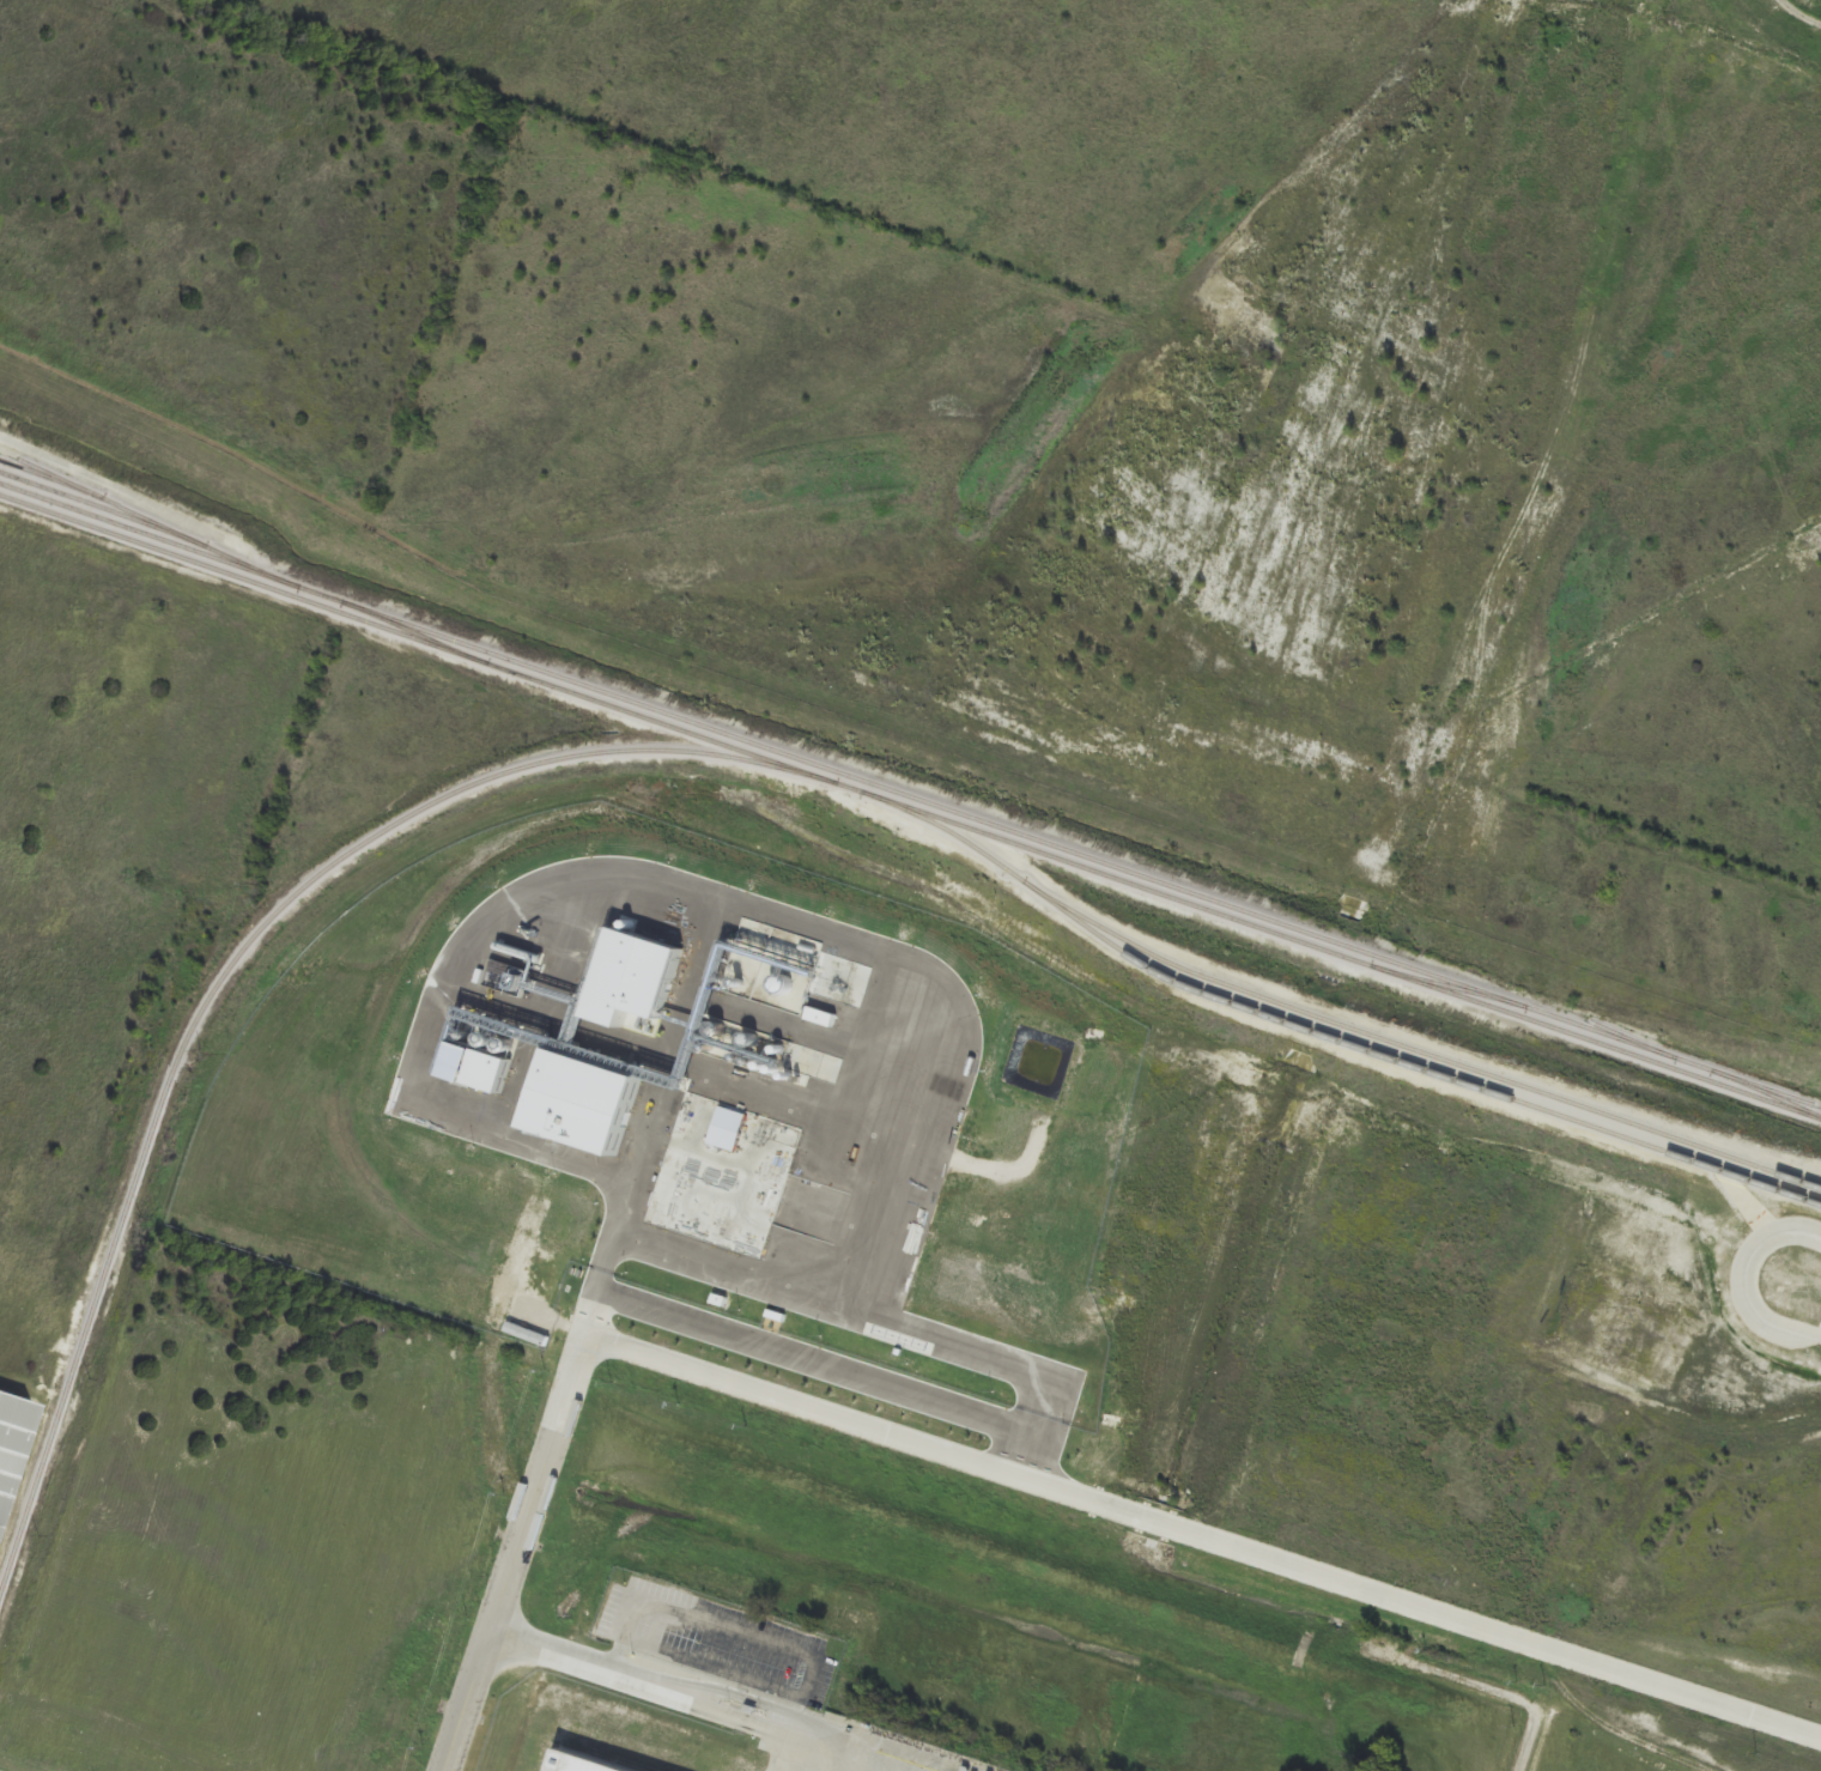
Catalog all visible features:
railway: (104, 499)
railway: (151, 526)
railway: (417, 632)
railway: (911, 795)
railway: (910, 807)
railway: (231, 968)
railway: (1446, 983)
railway: (1328, 1019)
railway: (1627, 1036)
railway: (1410, 1066)
railway: (1768, 1087)
building: (8, 1436)
road: (998, 1478)
road: (670, 1688)
road: (1540, 1748)
building: (602, 1761)

